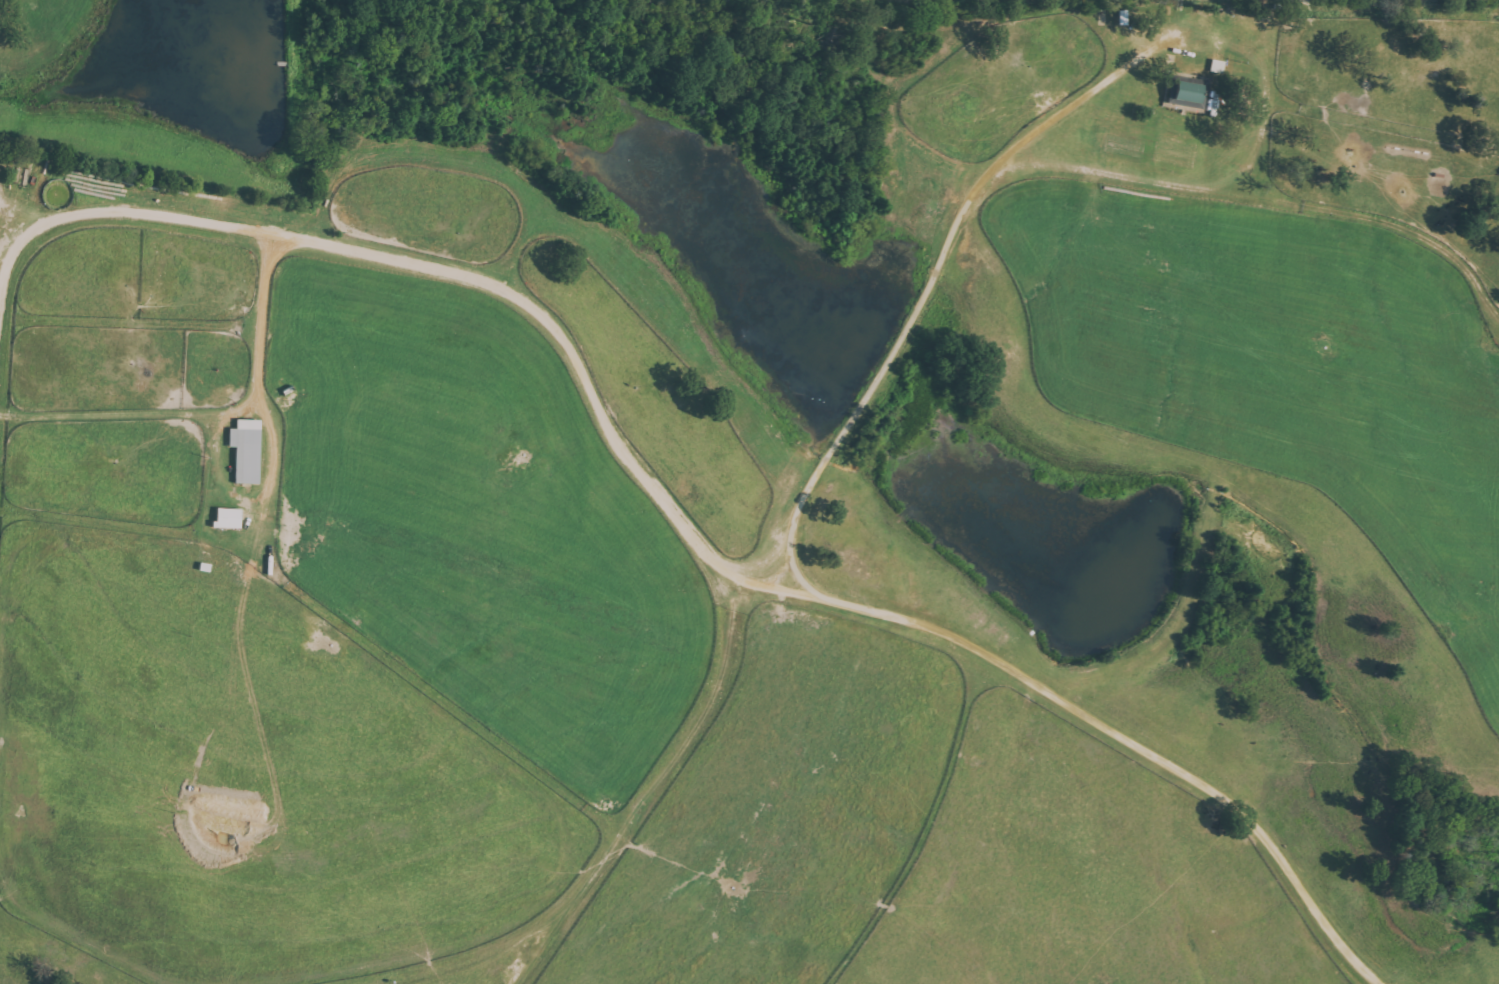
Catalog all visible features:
road: (1269, 82)
building: (1191, 95)
building: (249, 450)
building: (231, 518)
road: (932, 627)

